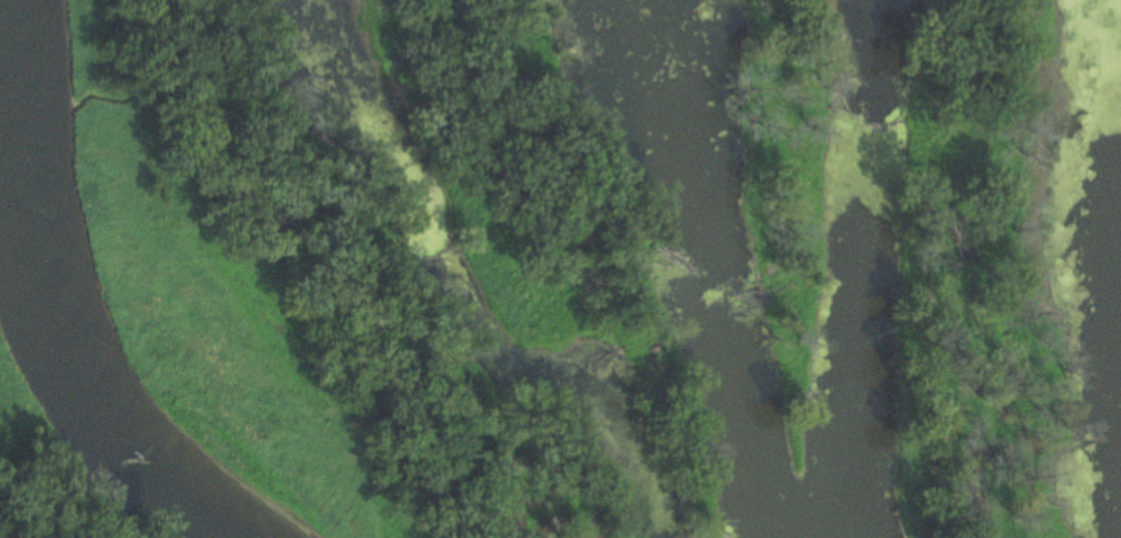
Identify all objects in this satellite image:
river: (50, 315)
river: (857, 392)

